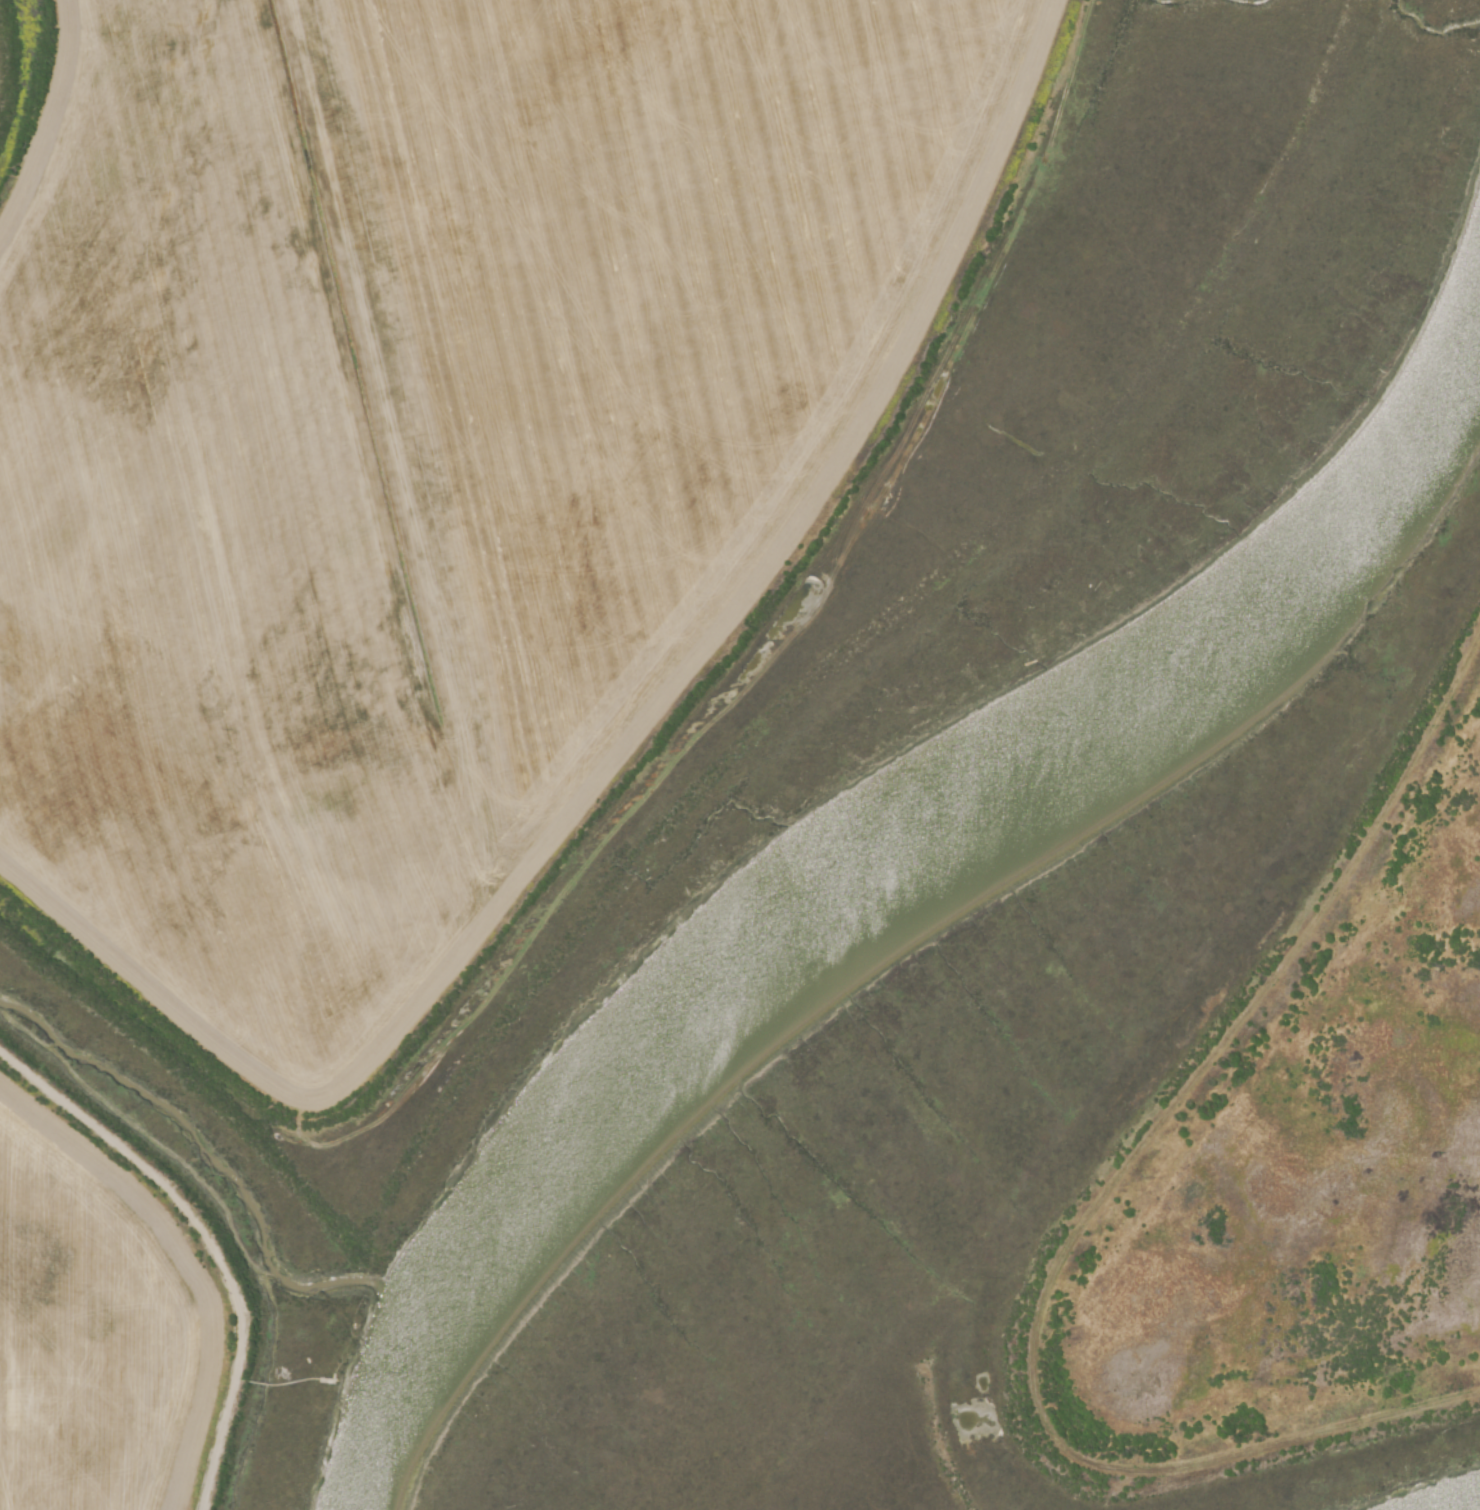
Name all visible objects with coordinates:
road: (193, 1246)

